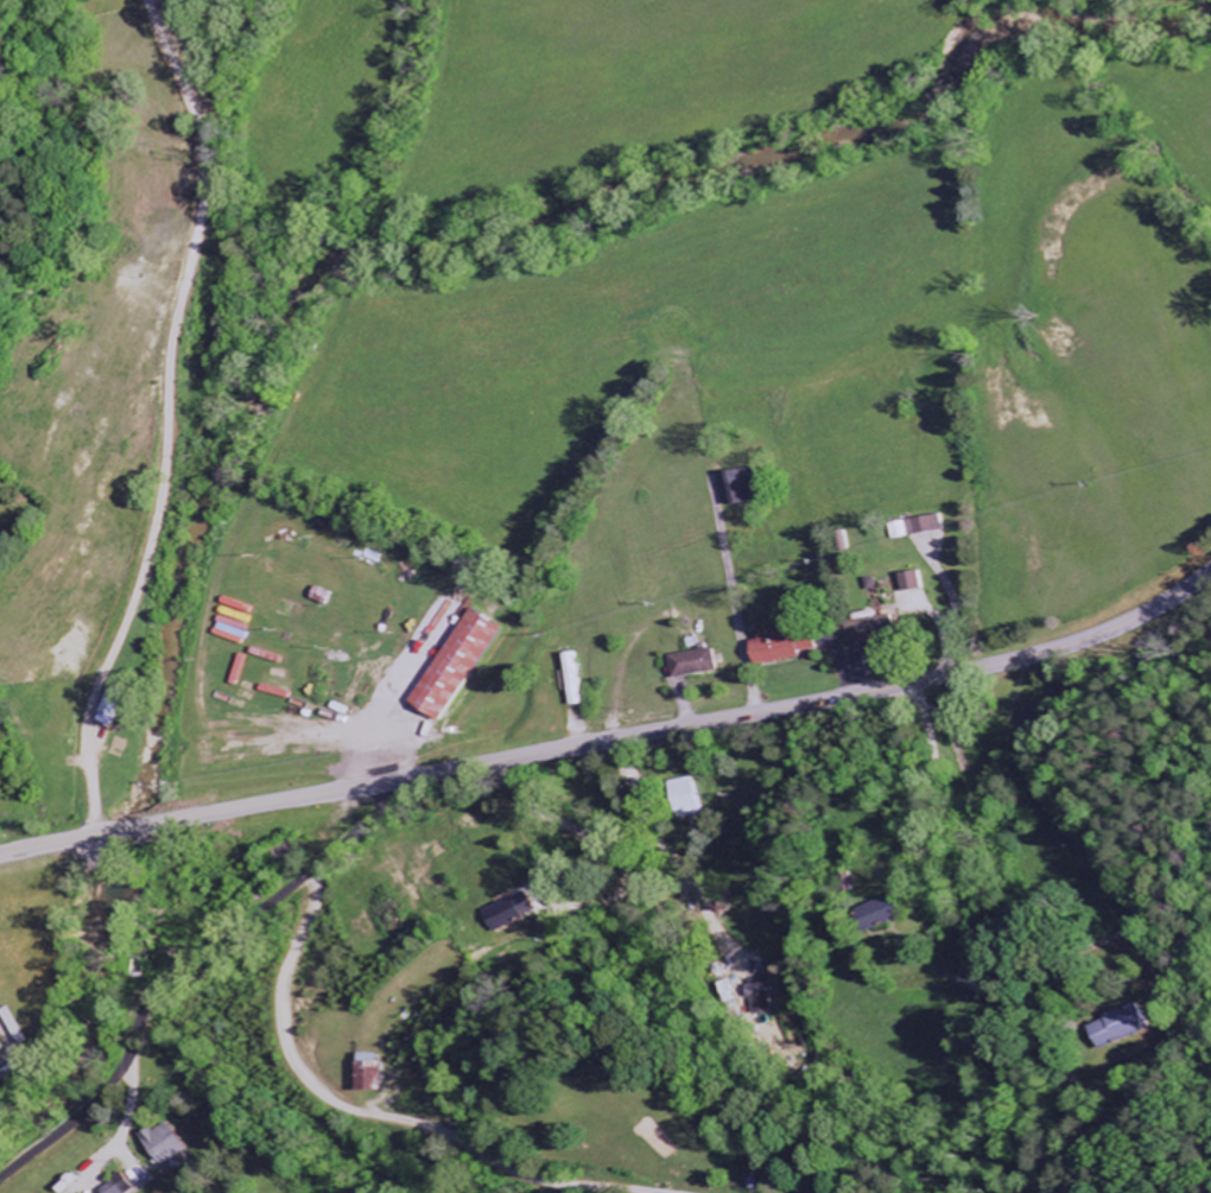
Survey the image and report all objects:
road: (160, 418)
building: (743, 489)
building: (927, 527)
building: (914, 582)
road: (724, 596)
building: (873, 632)
building: (787, 646)
building: (698, 665)
building: (462, 666)
building: (119, 703)
road: (614, 738)
road: (237, 741)
road: (407, 759)
road: (351, 761)
building: (689, 798)
road: (596, 848)
road: (658, 863)
building: (894, 910)
building: (511, 914)
road: (963, 958)
road: (183, 965)
building: (756, 995)
building: (1110, 1028)
building: (2, 1051)
road: (364, 1108)
building: (167, 1143)
building: (119, 1186)

